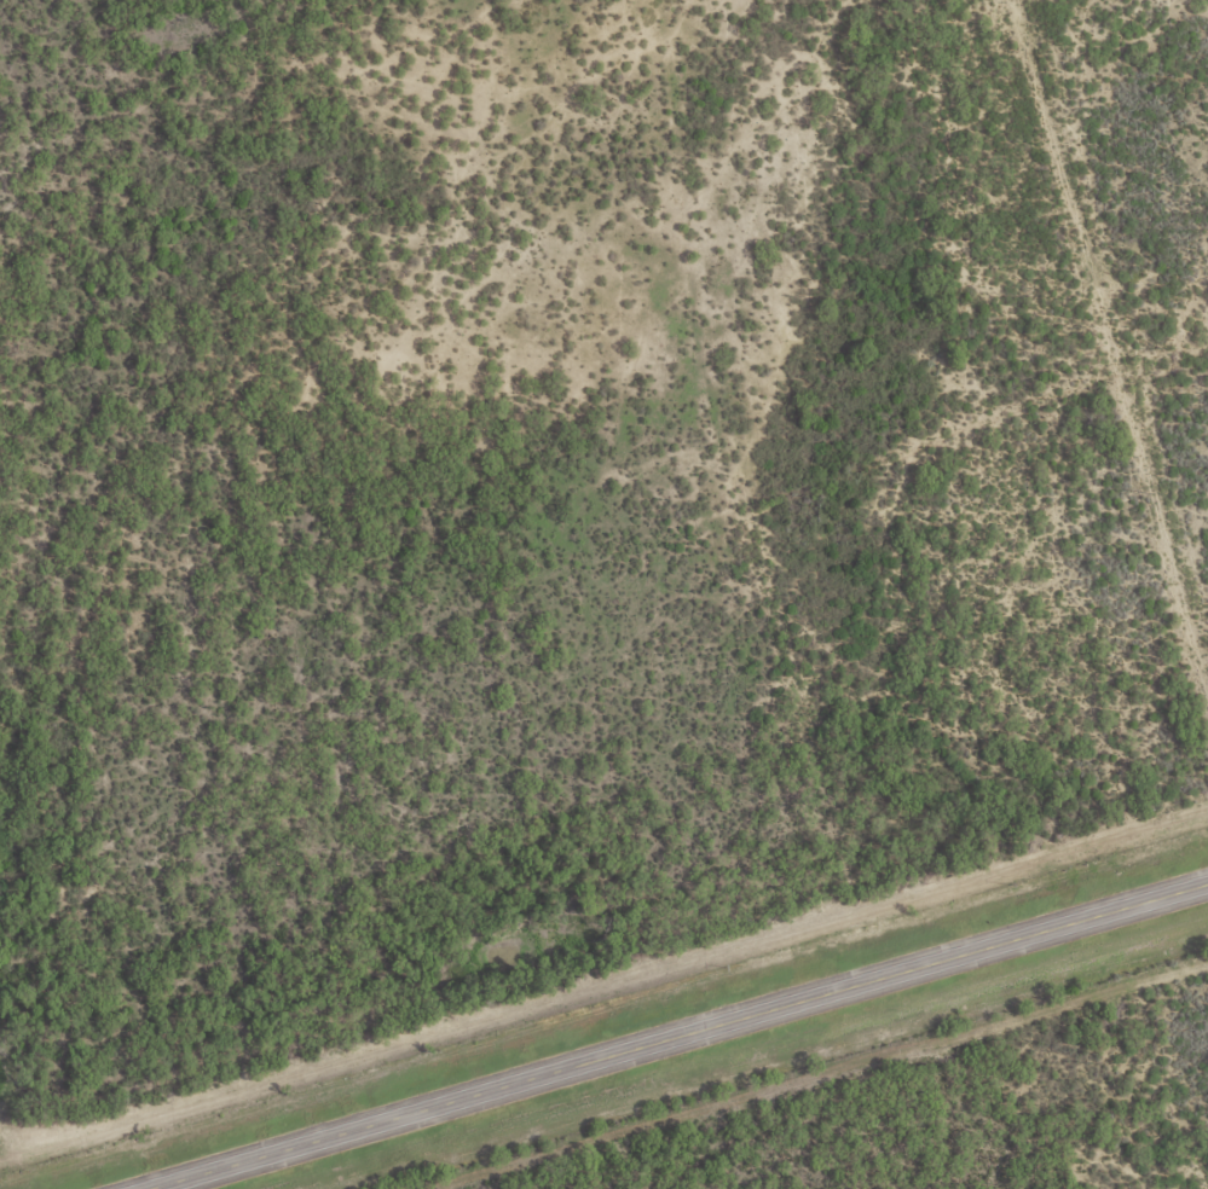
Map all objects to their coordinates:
road: (683, 1037)

